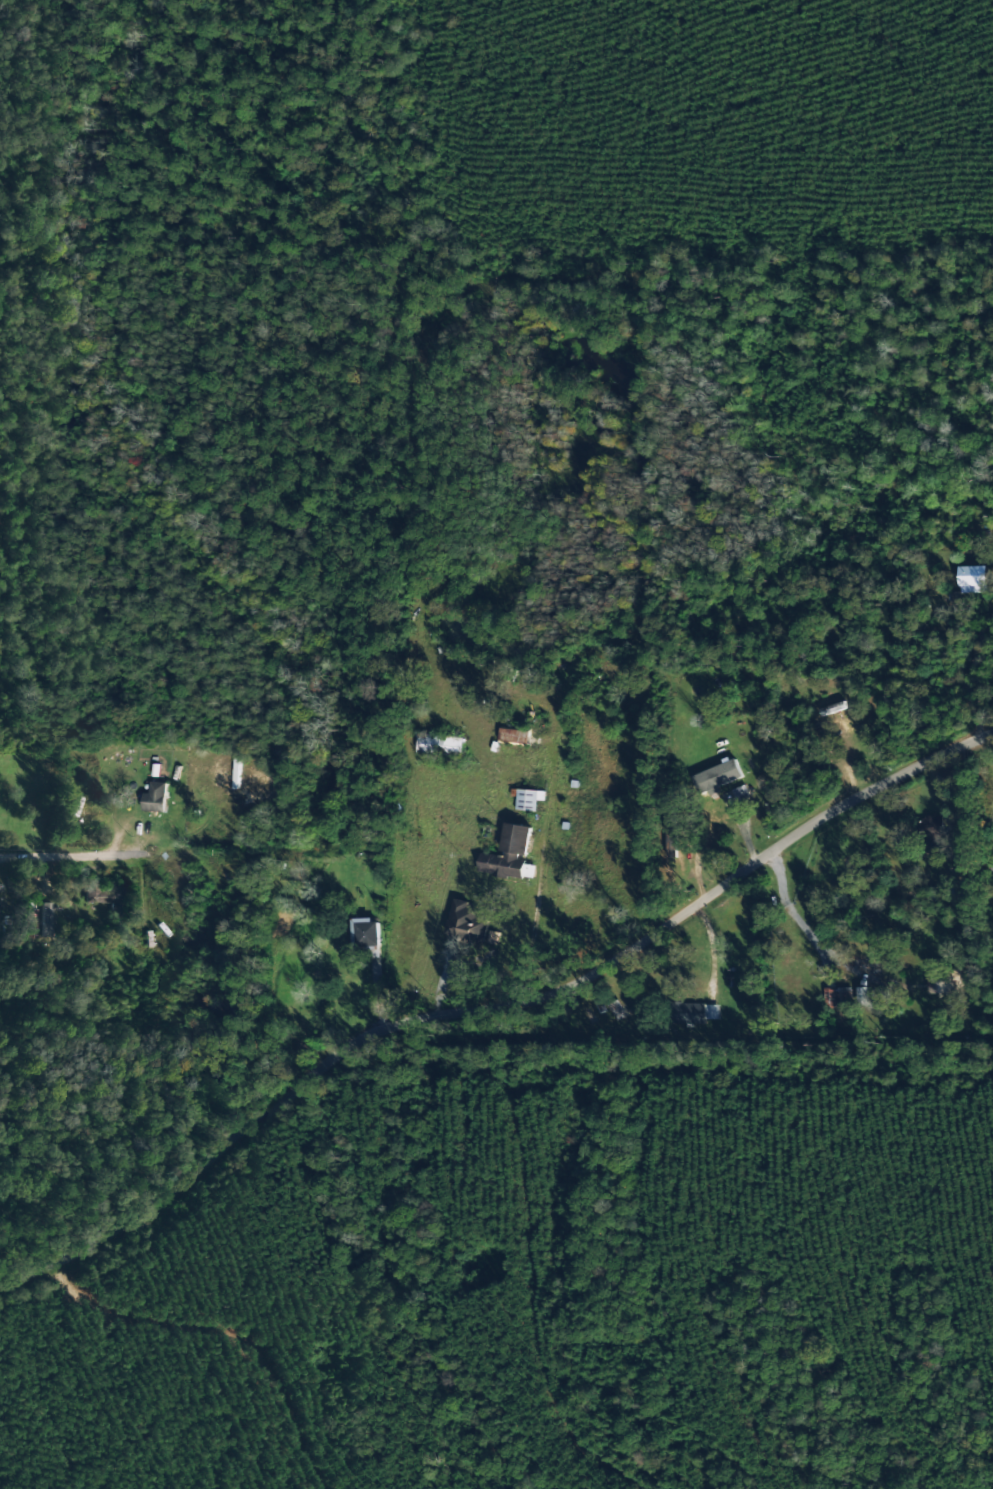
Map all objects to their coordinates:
building: (969, 583)
building: (440, 744)
building: (718, 776)
building: (155, 797)
building: (932, 827)
road: (77, 854)
building: (510, 854)
building: (43, 920)
building: (467, 922)
building: (369, 932)
building: (942, 980)
building: (838, 995)
building: (864, 996)
road: (491, 1009)
building: (696, 1012)
road: (519, 1123)

